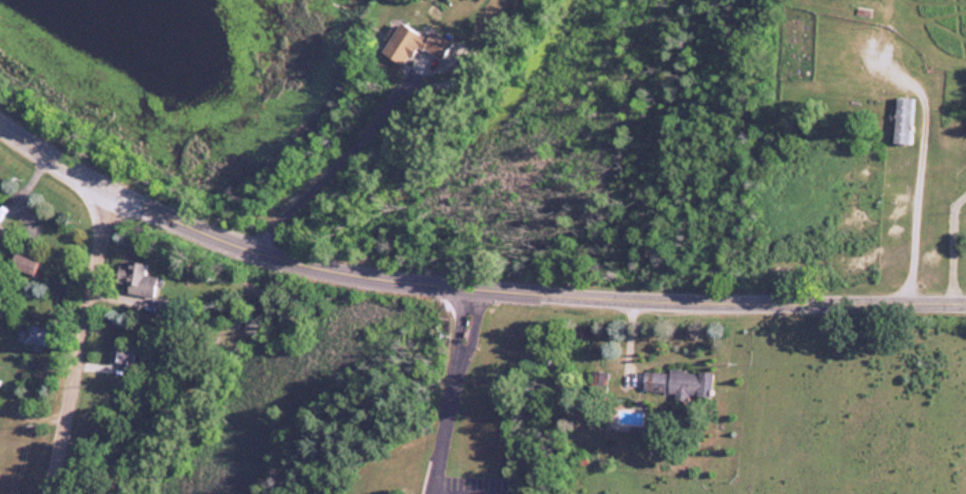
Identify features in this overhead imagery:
building: (403, 42)
building: (903, 120)
building: (23, 263)
building: (138, 279)
road: (465, 284)
road: (456, 319)
road: (472, 322)
building: (34, 335)
road: (73, 339)
building: (121, 355)
building: (680, 384)
road: (441, 424)
road: (452, 493)

